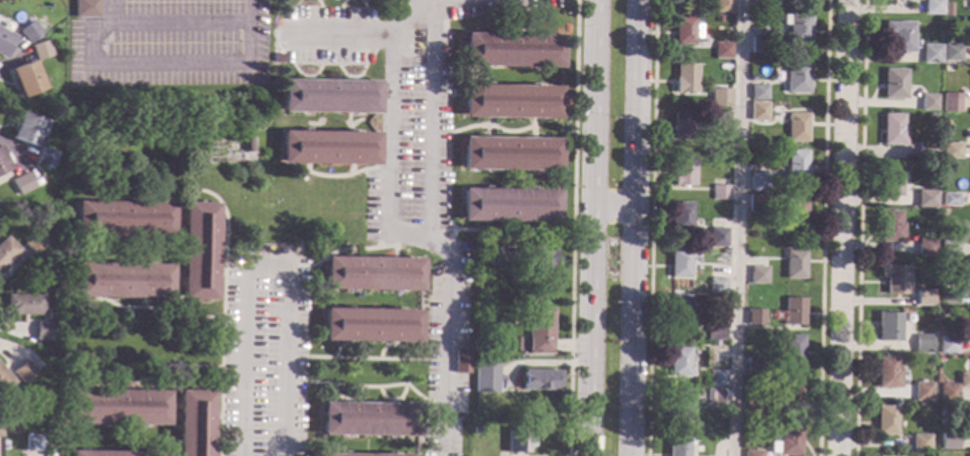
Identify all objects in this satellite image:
building: (761, 4)
road: (512, 5)
building: (723, 6)
building: (85, 7)
building: (932, 7)
road: (511, 18)
building: (721, 19)
road: (178, 20)
road: (293, 21)
building: (797, 25)
road: (510, 26)
building: (686, 29)
building: (29, 31)
building: (899, 34)
road: (356, 35)
road: (364, 35)
building: (4, 41)
building: (758, 44)
building: (511, 49)
building: (721, 49)
building: (41, 50)
building: (951, 50)
building: (930, 53)
building: (278, 57)
road: (163, 66)
building: (948, 68)
building: (794, 76)
road: (307, 77)
building: (25, 78)
road: (351, 78)
building: (684, 78)
building: (893, 82)
building: (758, 91)
building: (328, 95)
building: (720, 97)
building: (927, 100)
building: (509, 101)
building: (950, 102)
building: (758, 110)
building: (931, 117)
building: (720, 119)
road: (358, 120)
road: (349, 121)
building: (682, 123)
road: (489, 125)
road: (486, 126)
building: (797, 126)
road: (532, 128)
building: (26, 129)
building: (892, 129)
road: (436, 131)
building: (327, 147)
road: (11, 149)
building: (926, 149)
building: (950, 149)
road: (387, 150)
building: (509, 153)
building: (45, 157)
building: (796, 163)
building: (2, 164)
road: (350, 169)
building: (683, 170)
road: (349, 174)
building: (758, 180)
building: (889, 180)
building: (22, 182)
building: (719, 191)
road: (143, 195)
building: (925, 198)
building: (950, 198)
building: (757, 202)
building: (507, 204)
road: (611, 208)
building: (795, 212)
building: (680, 216)
building: (120, 218)
road: (590, 223)
building: (890, 226)
road: (631, 227)
road: (572, 228)
road: (650, 228)
road: (736, 228)
road: (824, 228)
road: (842, 228)
road: (860, 228)
road: (481, 229)
road: (426, 234)
building: (717, 236)
road: (378, 238)
road: (450, 241)
building: (34, 242)
building: (925, 247)
road: (352, 248)
building: (949, 248)
building: (6, 250)
building: (195, 250)
road: (347, 252)
building: (494, 255)
building: (542, 262)
building: (679, 262)
road: (221, 263)
building: (794, 264)
road: (296, 266)
road: (264, 268)
building: (370, 272)
building: (758, 274)
building: (894, 277)
building: (118, 280)
building: (38, 284)
building: (716, 285)
building: (948, 296)
building: (922, 297)
building: (479, 300)
road: (139, 302)
building: (24, 304)
building: (793, 309)
building: (681, 310)
road: (155, 311)
building: (726, 316)
building: (754, 316)
building: (369, 324)
building: (888, 325)
building: (42, 330)
building: (714, 330)
building: (537, 331)
road: (347, 342)
road: (391, 343)
building: (922, 343)
building: (947, 343)
building: (789, 351)
road: (365, 358)
building: (677, 360)
building: (460, 361)
building: (754, 365)
building: (23, 371)
road: (230, 371)
building: (887, 371)
road: (154, 372)
building: (486, 377)
building: (717, 377)
building: (540, 379)
building: (964, 379)
building: (4, 380)
road: (138, 386)
road: (368, 386)
building: (923, 391)
building: (948, 392)
building: (788, 394)
building: (713, 396)
road: (346, 401)
road: (390, 401)
building: (678, 404)
building: (116, 406)
building: (754, 407)
road: (213, 416)
building: (367, 418)
road: (228, 419)
building: (886, 419)
building: (969, 419)
building: (191, 423)
building: (474, 428)
building: (517, 440)
building: (788, 440)
building: (948, 440)
building: (33, 441)
building: (920, 442)
building: (675, 446)
road: (584, 452)
building: (752, 452)
building: (112, 453)
building: (364, 454)
building: (969, 454)

